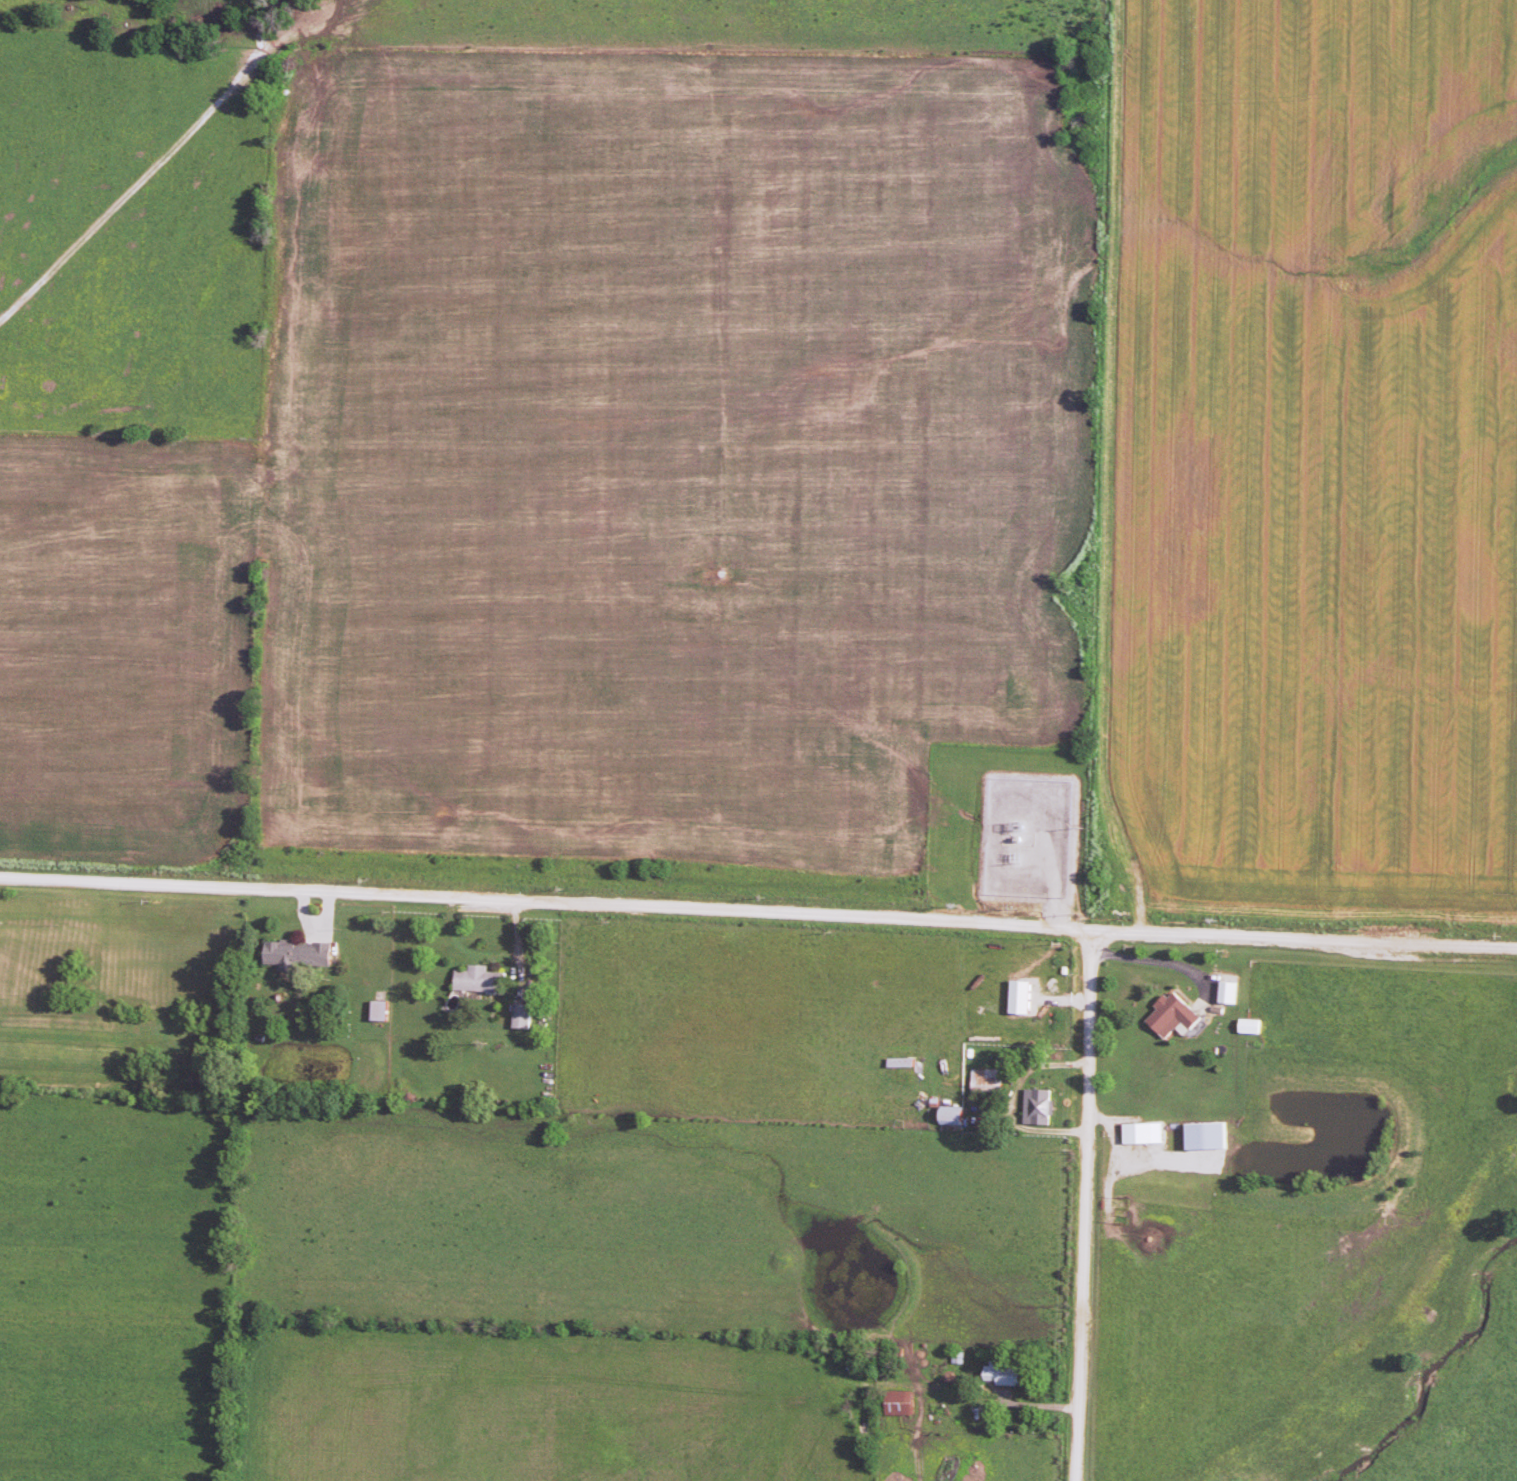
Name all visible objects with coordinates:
road: (1111, 469)
power substation: (1024, 837)
road: (758, 911)
building: (300, 950)
road: (484, 957)
road: (1168, 962)
building: (481, 976)
building: (1231, 988)
building: (1024, 993)
building: (1176, 1010)
building: (523, 1012)
building: (1252, 1022)
road: (1015, 1100)
building: (1040, 1102)
building: (956, 1113)
building: (1145, 1129)
building: (1210, 1132)
road: (1084, 1205)
building: (1006, 1370)
building: (902, 1399)

